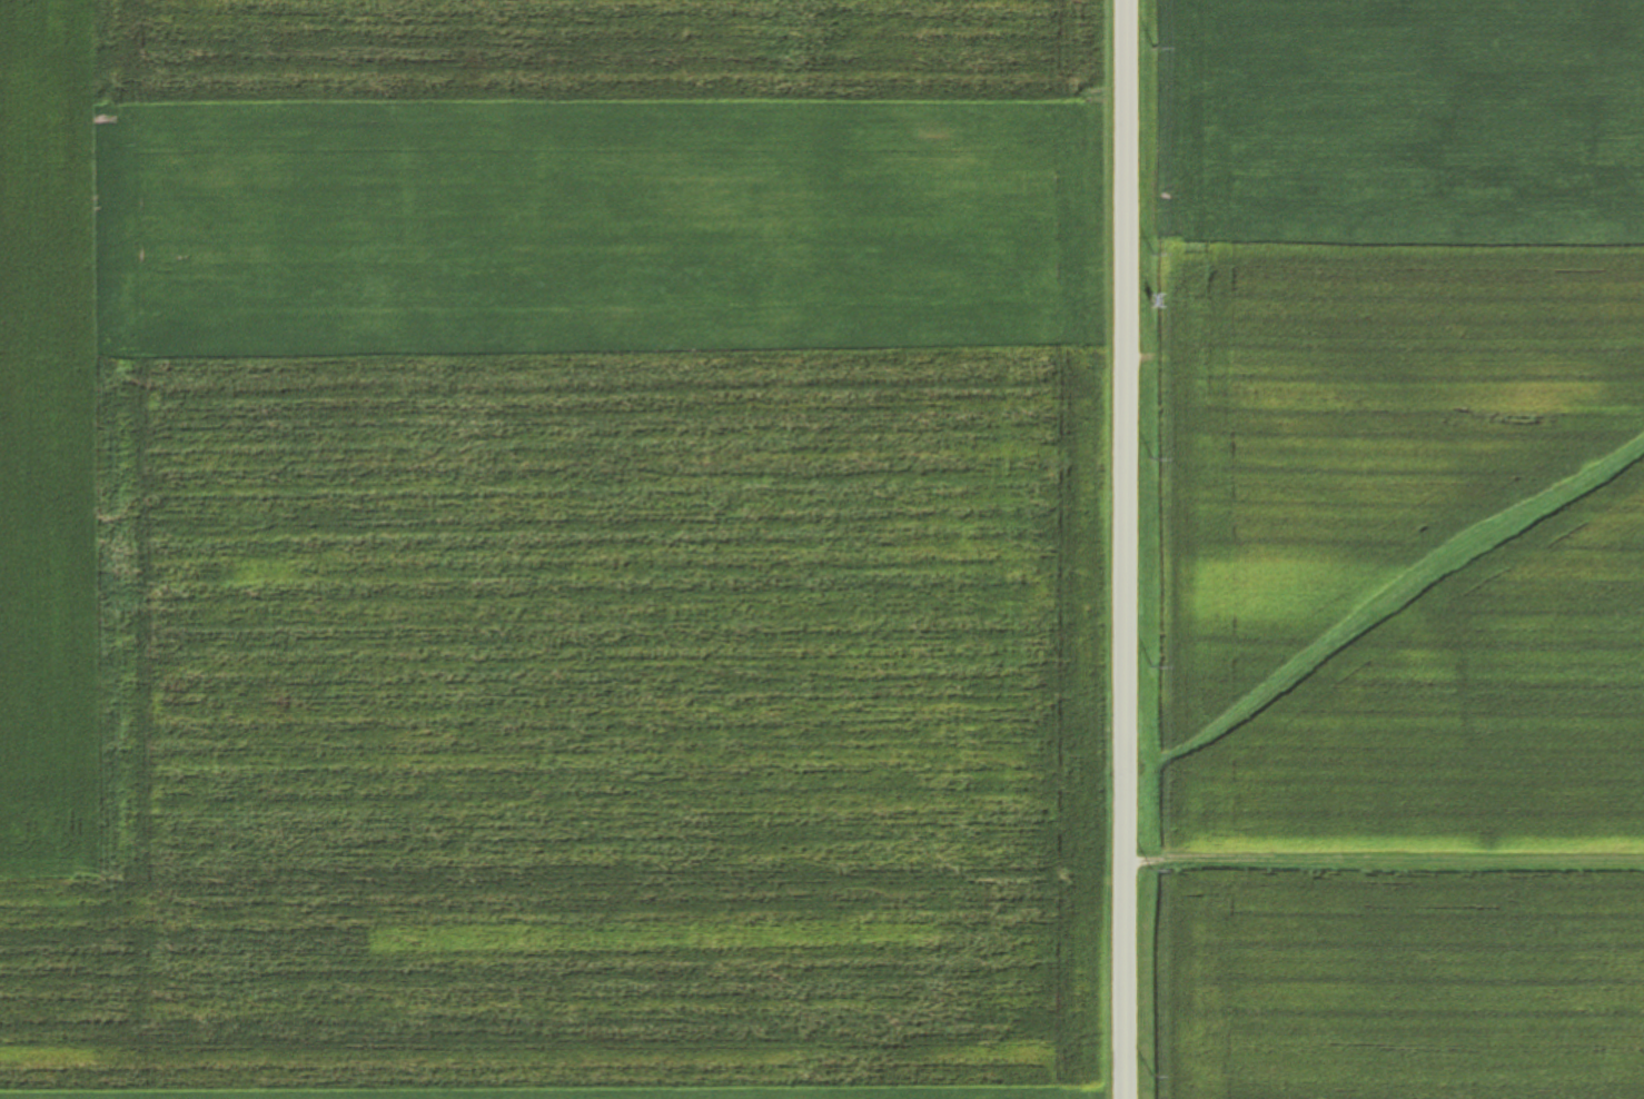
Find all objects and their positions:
road: (1120, 549)

